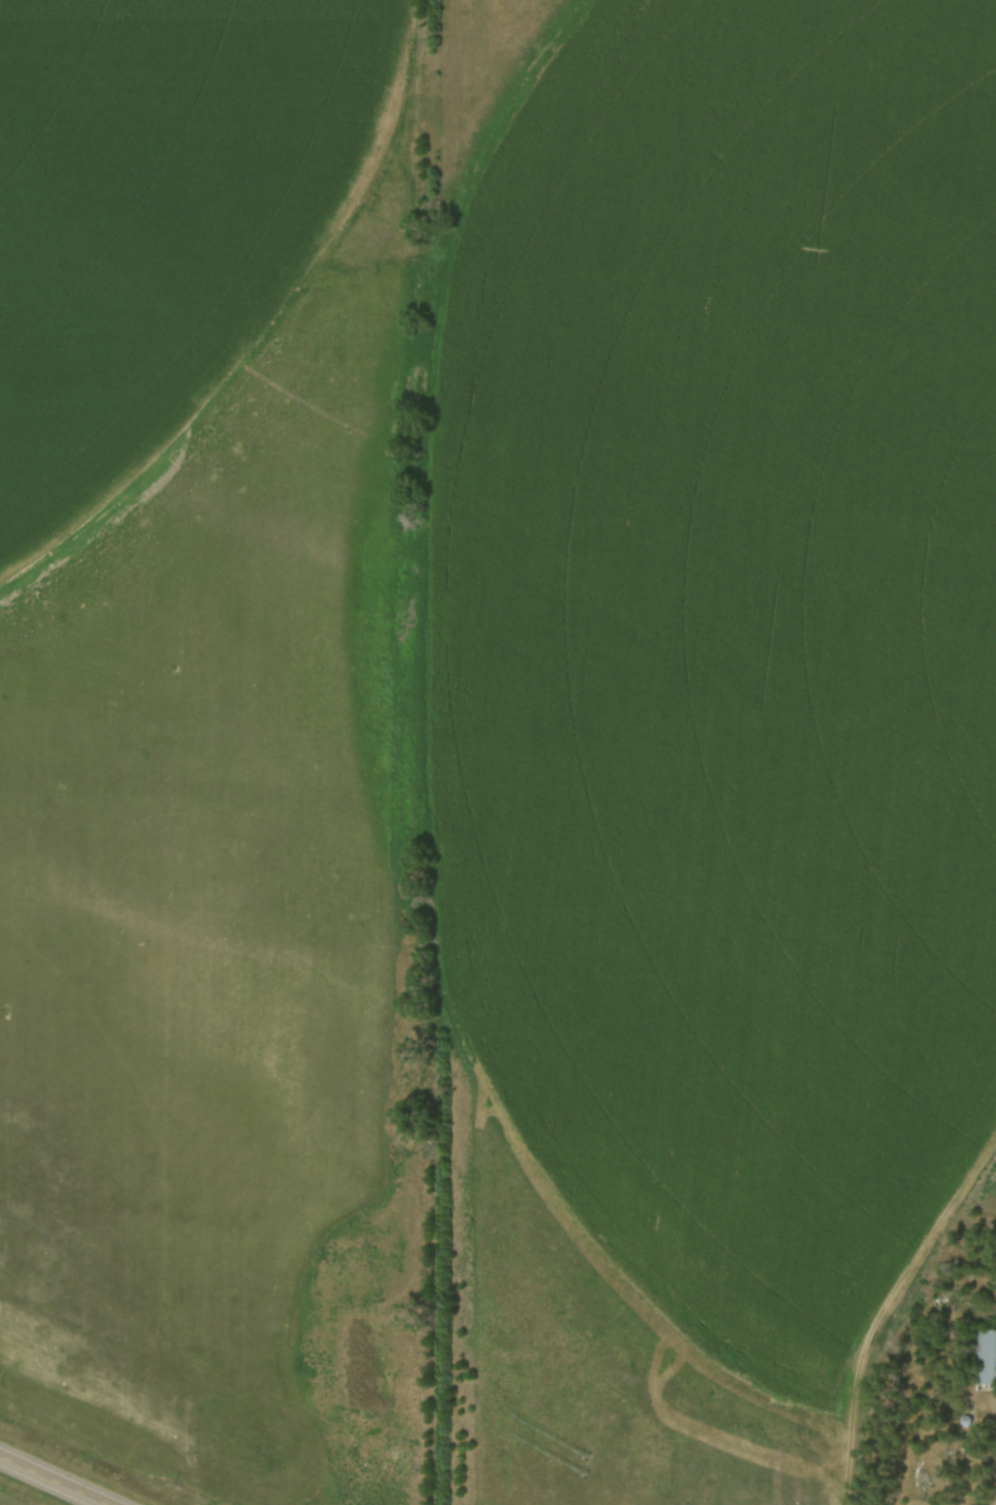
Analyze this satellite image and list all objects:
crop: (725, 633)
building: (980, 1355)
road: (56, 1479)

